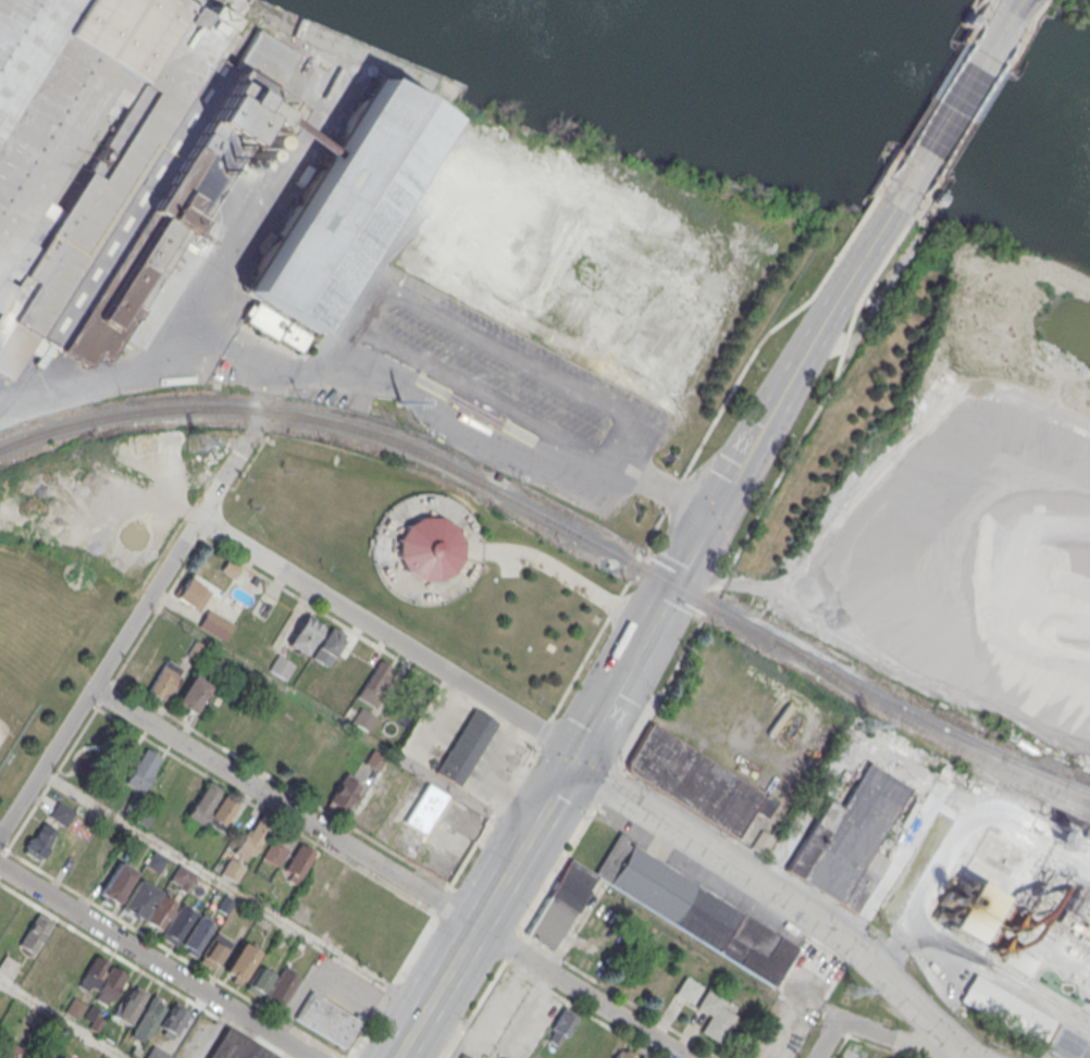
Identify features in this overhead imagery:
road: (1043, 2)
building: (568, 4)
road: (1006, 15)
traffic signals: (999, 27)
river: (818, 76)
road: (955, 96)
road: (973, 115)
building: (111, 153)
traffic signals: (901, 187)
road: (899, 188)
building: (339, 204)
road: (391, 294)
road: (152, 361)
road: (339, 361)
road: (798, 365)
power tower: (400, 402)
road: (467, 427)
power tower: (197, 441)
road: (669, 489)
road: (769, 501)
traffic signals: (715, 514)
railway: (563, 527)
building: (426, 547)
road: (694, 550)
building: (191, 594)
road: (145, 603)
building: (214, 624)
building: (304, 635)
road: (388, 635)
road: (596, 636)
park: (44, 644)
building: (326, 647)
building: (281, 667)
road: (621, 673)
building: (164, 680)
building: (376, 683)
building: (313, 689)
building: (193, 694)
building: (361, 717)
road: (443, 717)
railway: (929, 720)
power tower: (866, 722)
parking lot: (436, 729)
road: (543, 731)
building: (265, 746)
building: (302, 746)
building: (465, 746)
park: (97, 754)
traffic signals: (572, 761)
parking lot: (495, 764)
building: (143, 770)
road: (484, 775)
railway: (996, 776)
building: (695, 781)
road: (605, 789)
building: (344, 792)
railway: (1033, 793)
road: (467, 796)
building: (202, 805)
road: (284, 806)
building: (424, 808)
building: (223, 812)
building: (61, 813)
building: (138, 813)
road: (493, 813)
railway: (1072, 824)
building: (252, 839)
building: (847, 839)
building: (39, 841)
building: (274, 854)
building: (156, 862)
building: (297, 862)
building: (995, 862)
building: (233, 870)
road: (555, 874)
building: (182, 876)
building: (116, 882)
road: (232, 891)
road: (777, 894)
building: (139, 898)
road: (442, 899)
building: (665, 908)
road: (484, 909)
building: (1060, 910)
building: (175, 924)
building: (35, 932)
building: (195, 936)
road: (168, 948)
road: (511, 949)
building: (214, 951)
road: (153, 961)
building: (238, 962)
road: (982, 969)
road: (140, 970)
building: (259, 980)
road: (333, 981)
building: (109, 985)
building: (281, 985)
parking lot: (335, 986)
road: (389, 986)
building: (688, 989)
power tower: (851, 991)
road: (579, 992)
building: (128, 1003)
building: (74, 1008)
road: (475, 1009)
road: (522, 1016)
building: (716, 1016)
building: (149, 1017)
building: (172, 1018)
building: (325, 1018)
road: (62, 1019)
building: (1024, 1021)
building: (560, 1026)
road: (877, 1033)
building: (580, 1043)
building: (236, 1046)
building: (10, 1051)
building: (156, 1053)
building: (623, 1054)
building: (59, 1057)
road: (496, 1057)

